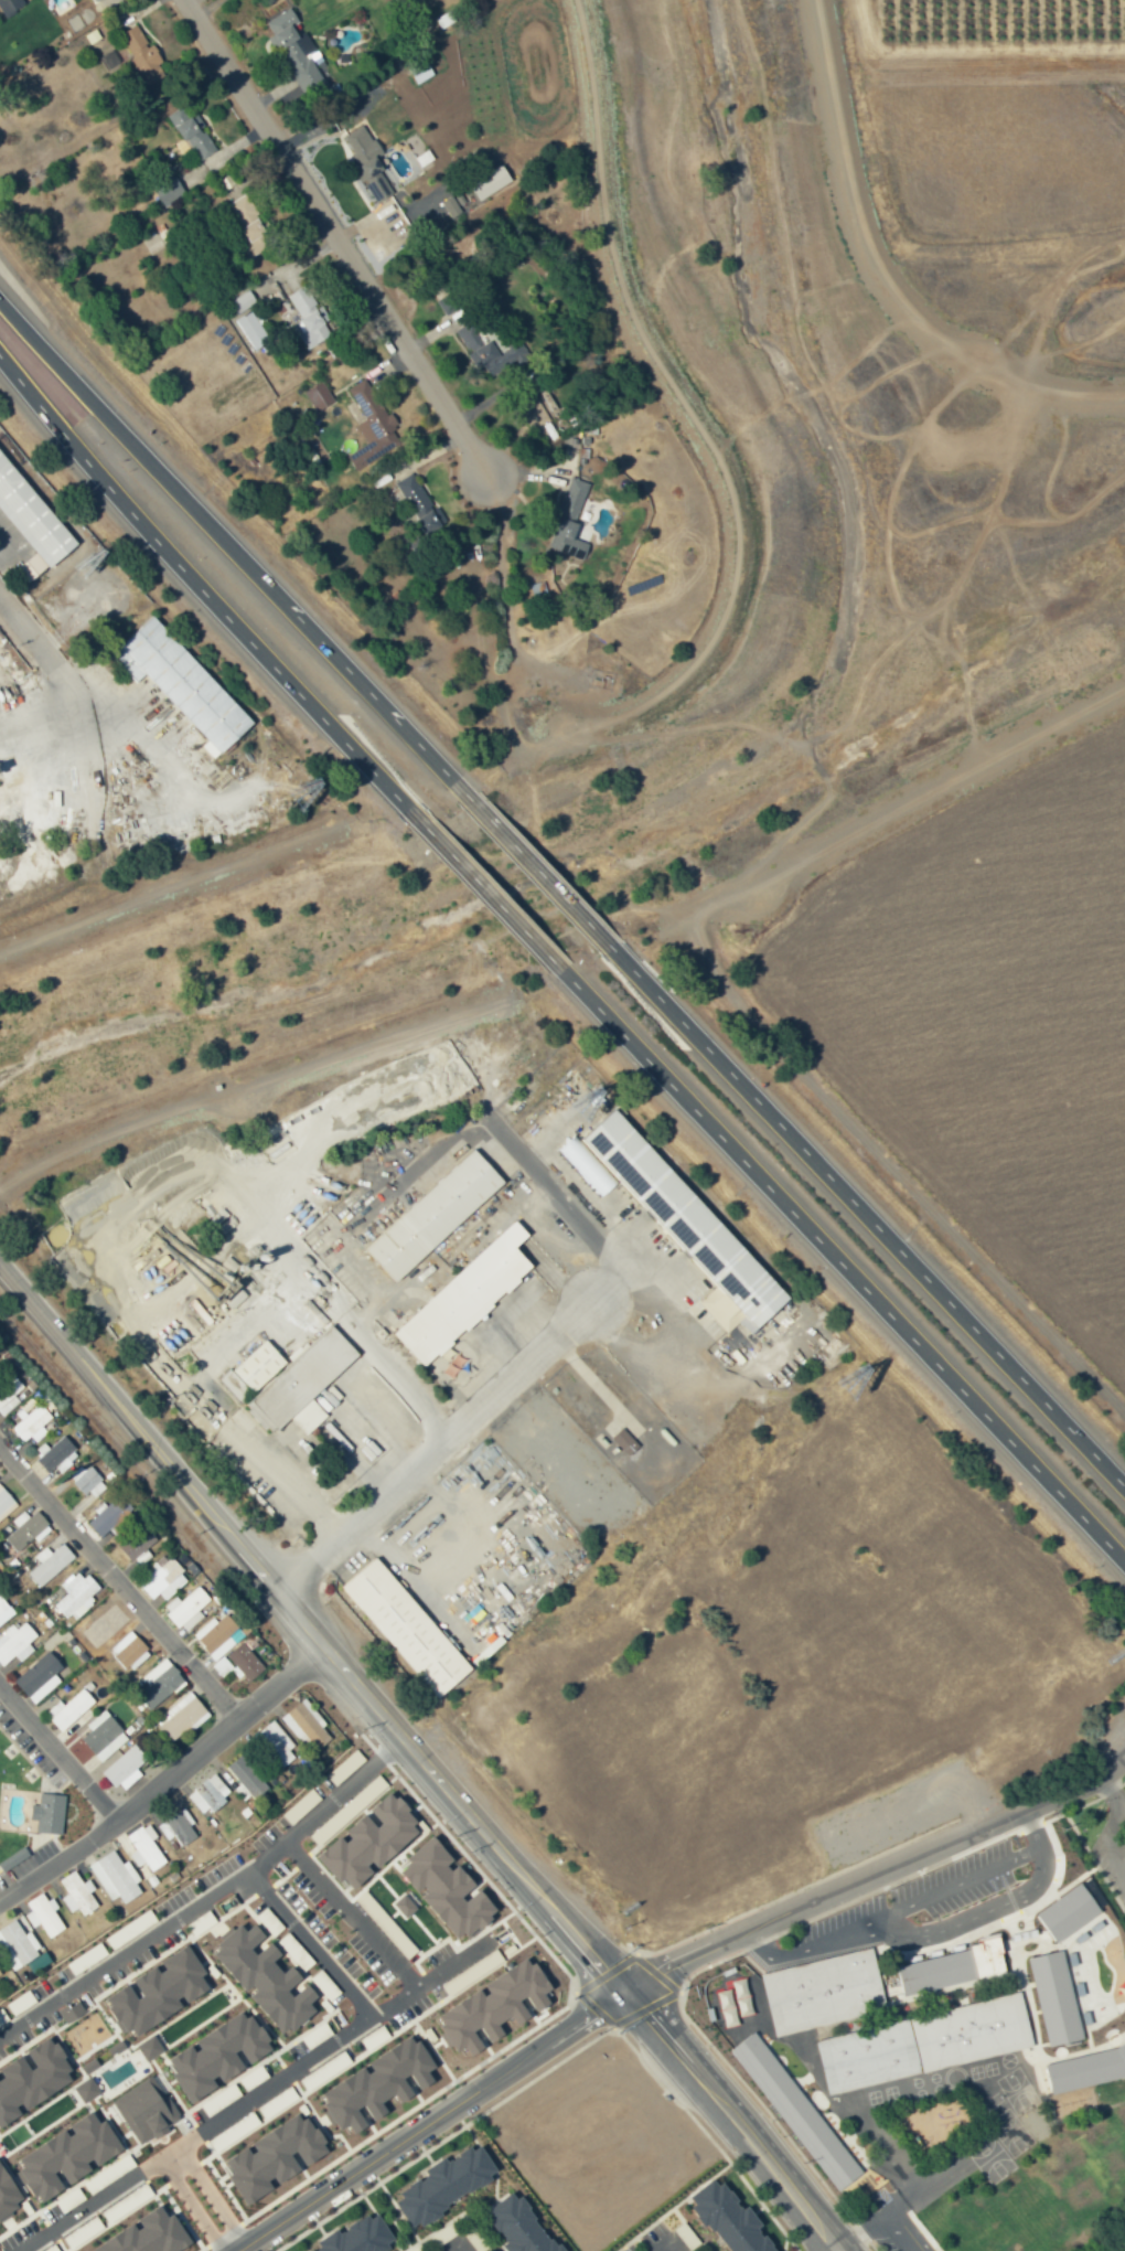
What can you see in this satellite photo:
building: (95, 0)
building: (298, 51)
building: (135, 54)
building: (193, 132)
building: (365, 154)
building: (169, 189)
building: (247, 215)
road: (333, 235)
road: (877, 278)
building: (444, 291)
building: (243, 301)
road: (19, 316)
building: (304, 317)
building: (253, 330)
building: (484, 350)
building: (319, 396)
road: (88, 398)
building: (373, 425)
road: (71, 441)
road: (719, 456)
building: (419, 501)
building: (31, 510)
building: (570, 521)
road: (250, 568)
road: (502, 612)
road: (25, 628)
road: (276, 668)
building: (180, 678)
road: (393, 716)
road: (538, 871)
road: (174, 879)
road: (485, 890)
road: (729, 991)
road: (256, 1078)
building: (225, 1208)
building: (436, 1215)
building: (677, 1218)
road: (869, 1220)
road: (844, 1268)
building: (467, 1297)
building: (303, 1384)
building: (9, 1393)
building: (32, 1422)
building: (625, 1442)
road: (432, 1447)
building: (54, 1453)
building: (88, 1482)
building: (6, 1502)
building: (107, 1517)
building: (28, 1529)
building: (138, 1544)
building: (52, 1565)
road: (127, 1568)
building: (164, 1579)
building: (77, 1594)
building: (187, 1609)
building: (4, 1610)
building: (108, 1622)
building: (404, 1622)
building: (219, 1635)
building: (17, 1643)
building: (130, 1650)
building: (240, 1662)
building: (40, 1676)
building: (161, 1683)
building: (69, 1709)
building: (185, 1714)
building: (307, 1726)
road: (62, 1735)
building: (103, 1735)
building: (277, 1745)
road: (418, 1757)
building: (126, 1768)
road: (163, 1775)
building: (247, 1777)
road: (1110, 1793)
building: (208, 1794)
road: (1087, 1802)
road: (324, 1805)
building: (50, 1813)
building: (178, 1827)
road: (1108, 1836)
park: (1103, 1837)
building: (371, 1843)
building: (144, 1848)
road: (1093, 1865)
road: (875, 1873)
building: (115, 1877)
building: (448, 1889)
building: (77, 1893)
building: (1069, 1912)
building: (43, 1916)
building: (17, 1945)
road: (378, 1945)
road: (124, 1954)
building: (955, 1967)
building: (0, 1974)
building: (266, 1978)
traffic signals: (622, 1989)
building: (819, 1991)
road: (681, 1992)
building: (159, 1993)
building: (1057, 1998)
building: (496, 2007)
building: (72, 2012)
building: (967, 2030)
building: (150, 2048)
building: (219, 2056)
building: (865, 2056)
road: (561, 2058)
building: (1086, 2067)
building: (32, 2080)
road: (274, 2081)
building: (379, 2085)
building: (87, 2090)
road: (428, 2097)
building: (800, 2102)
building: (146, 2112)
road: (422, 2119)
building: (69, 2157)
building: (275, 2158)
building: (848, 2173)
building: (437, 2183)
road: (210, 2193)
building: (9, 2195)
road: (191, 2204)
road: (664, 2212)
road: (451, 2218)
building: (720, 2218)
building: (512, 2227)
building: (150, 2234)
building: (350, 2236)
building: (902, 2237)
park: (1115, 2240)
road: (664, 2242)
road: (1123, 2245)
road: (453, 2247)

